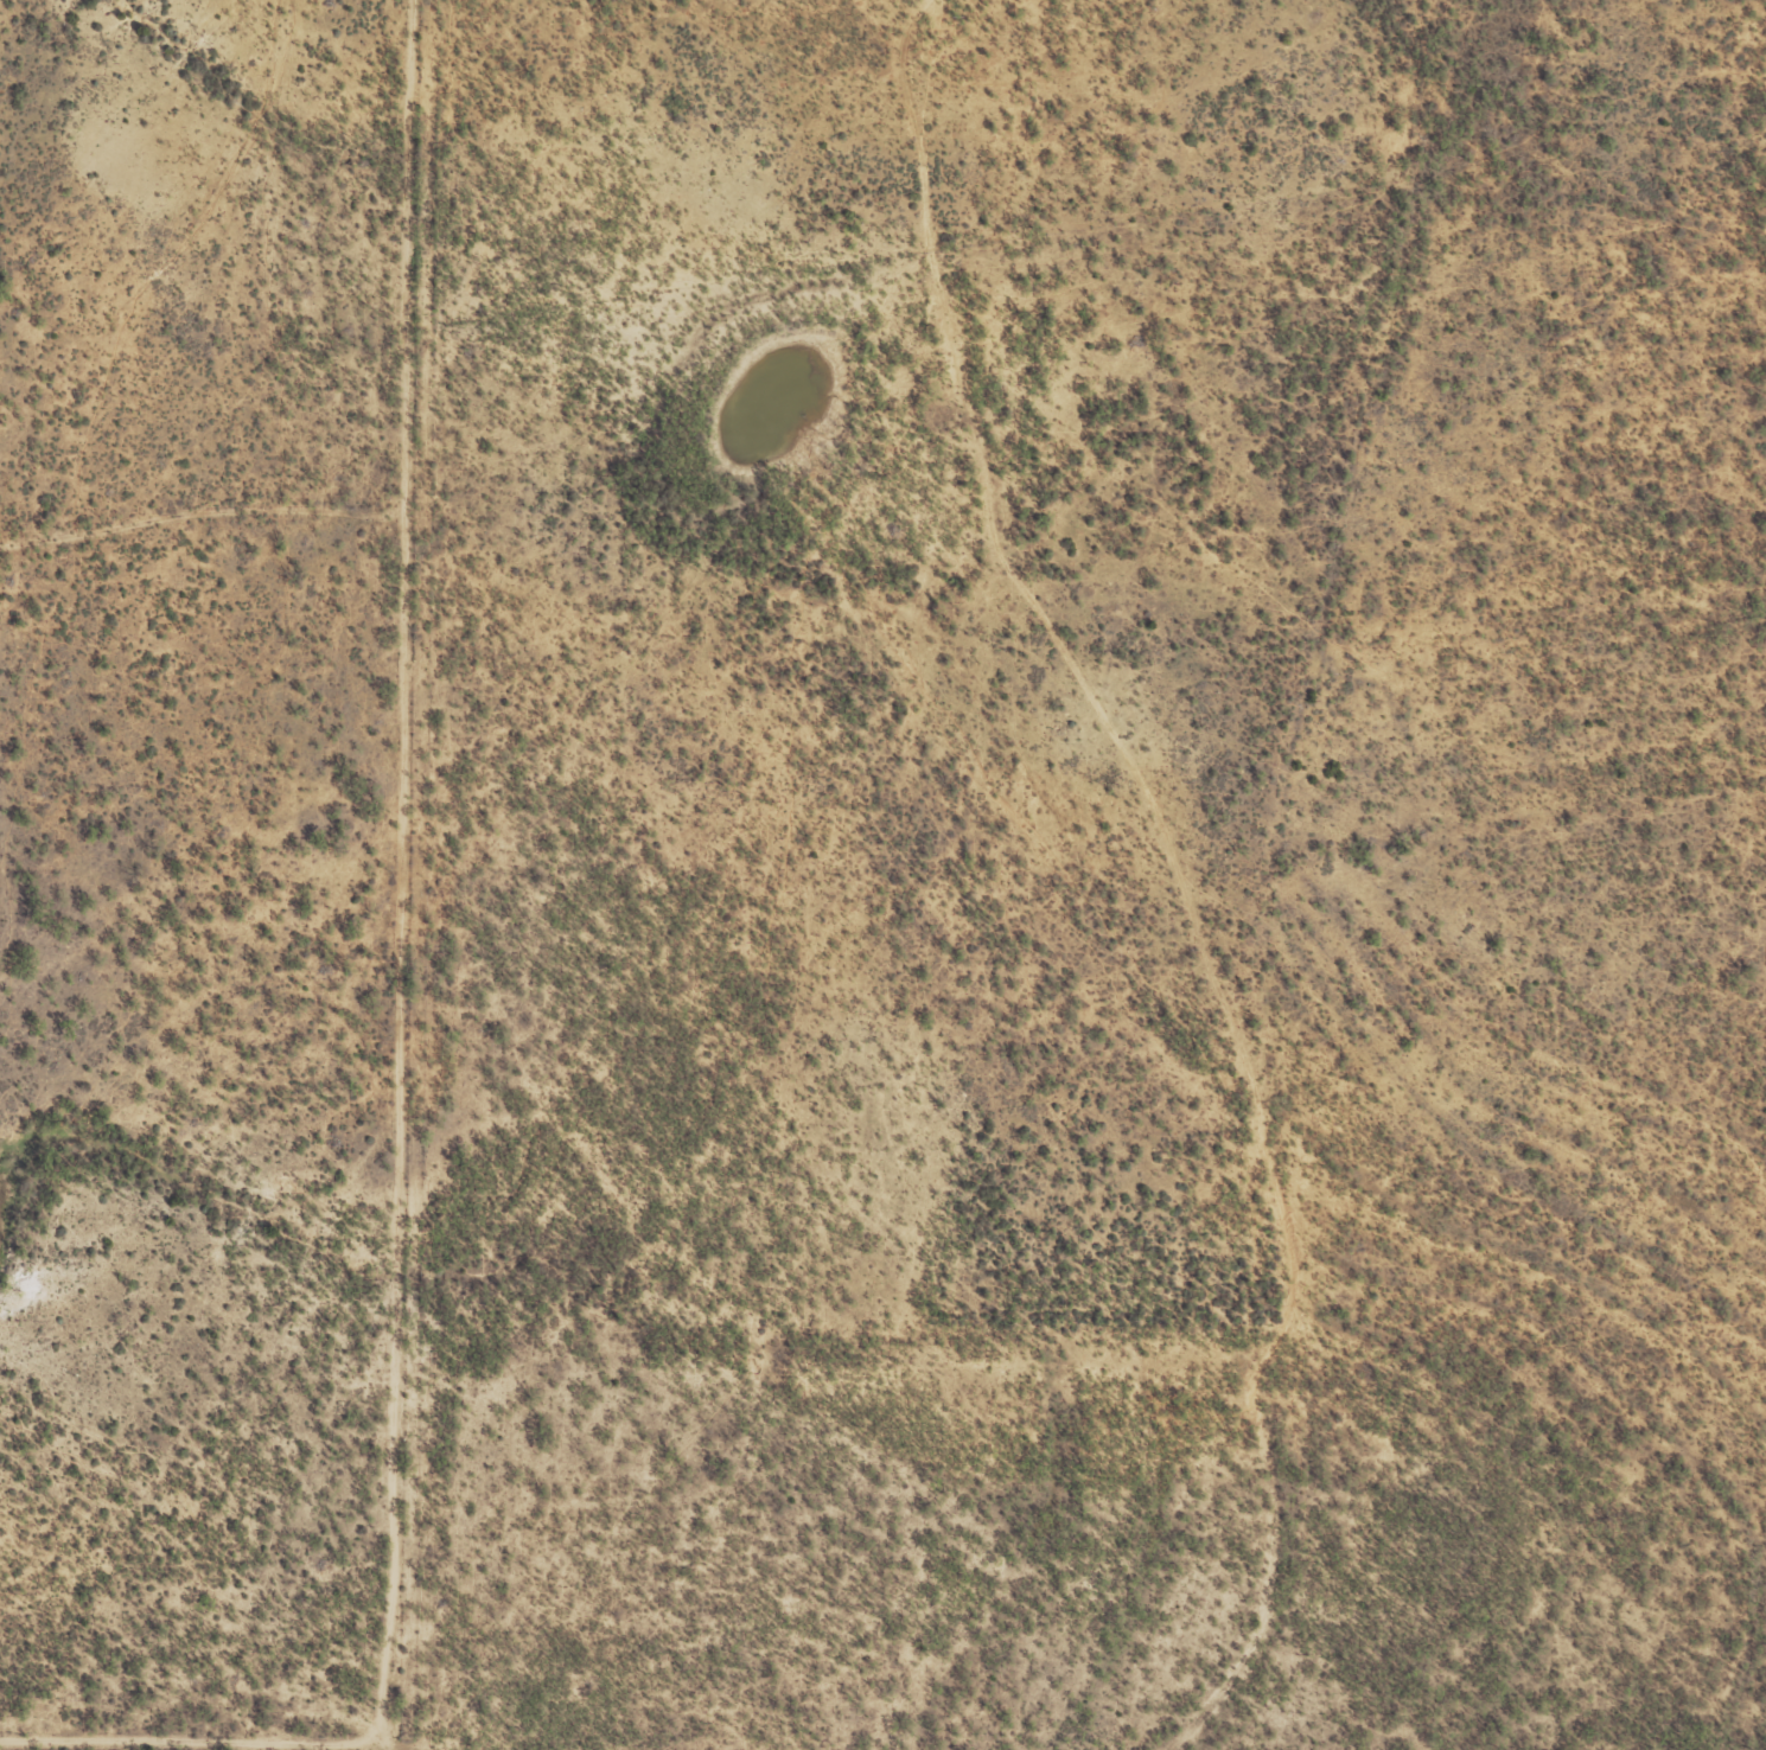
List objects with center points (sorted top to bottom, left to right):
road: (522, 797)
road: (76, 1749)

